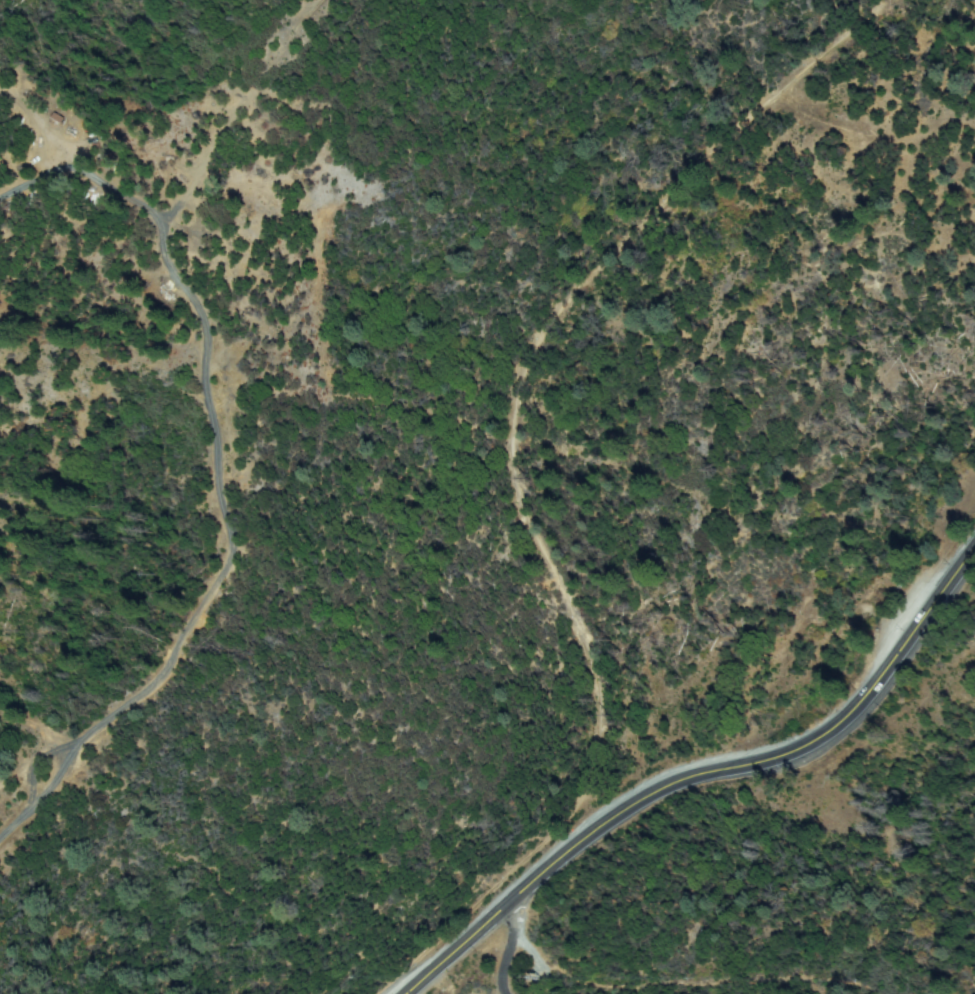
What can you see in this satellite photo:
road: (204, 413)
road: (701, 775)
road: (508, 946)

